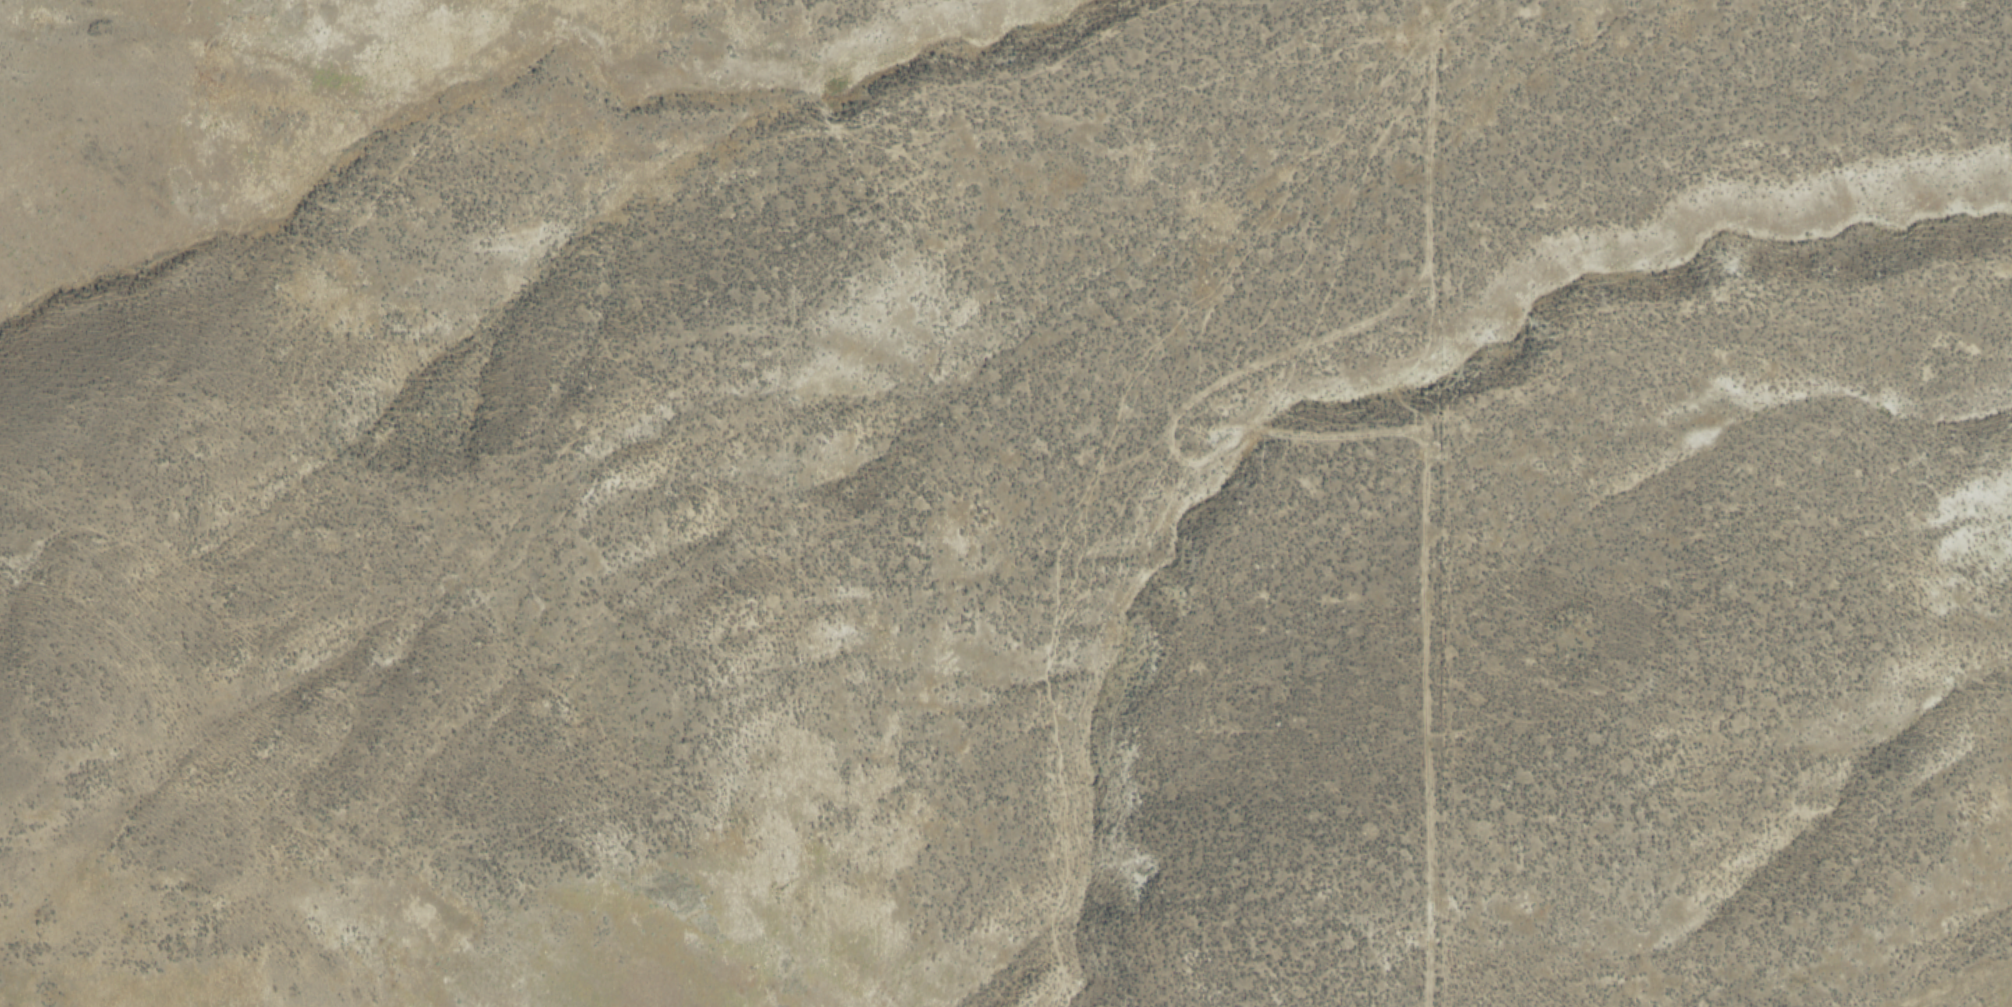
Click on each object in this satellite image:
road: (1270, 431)

